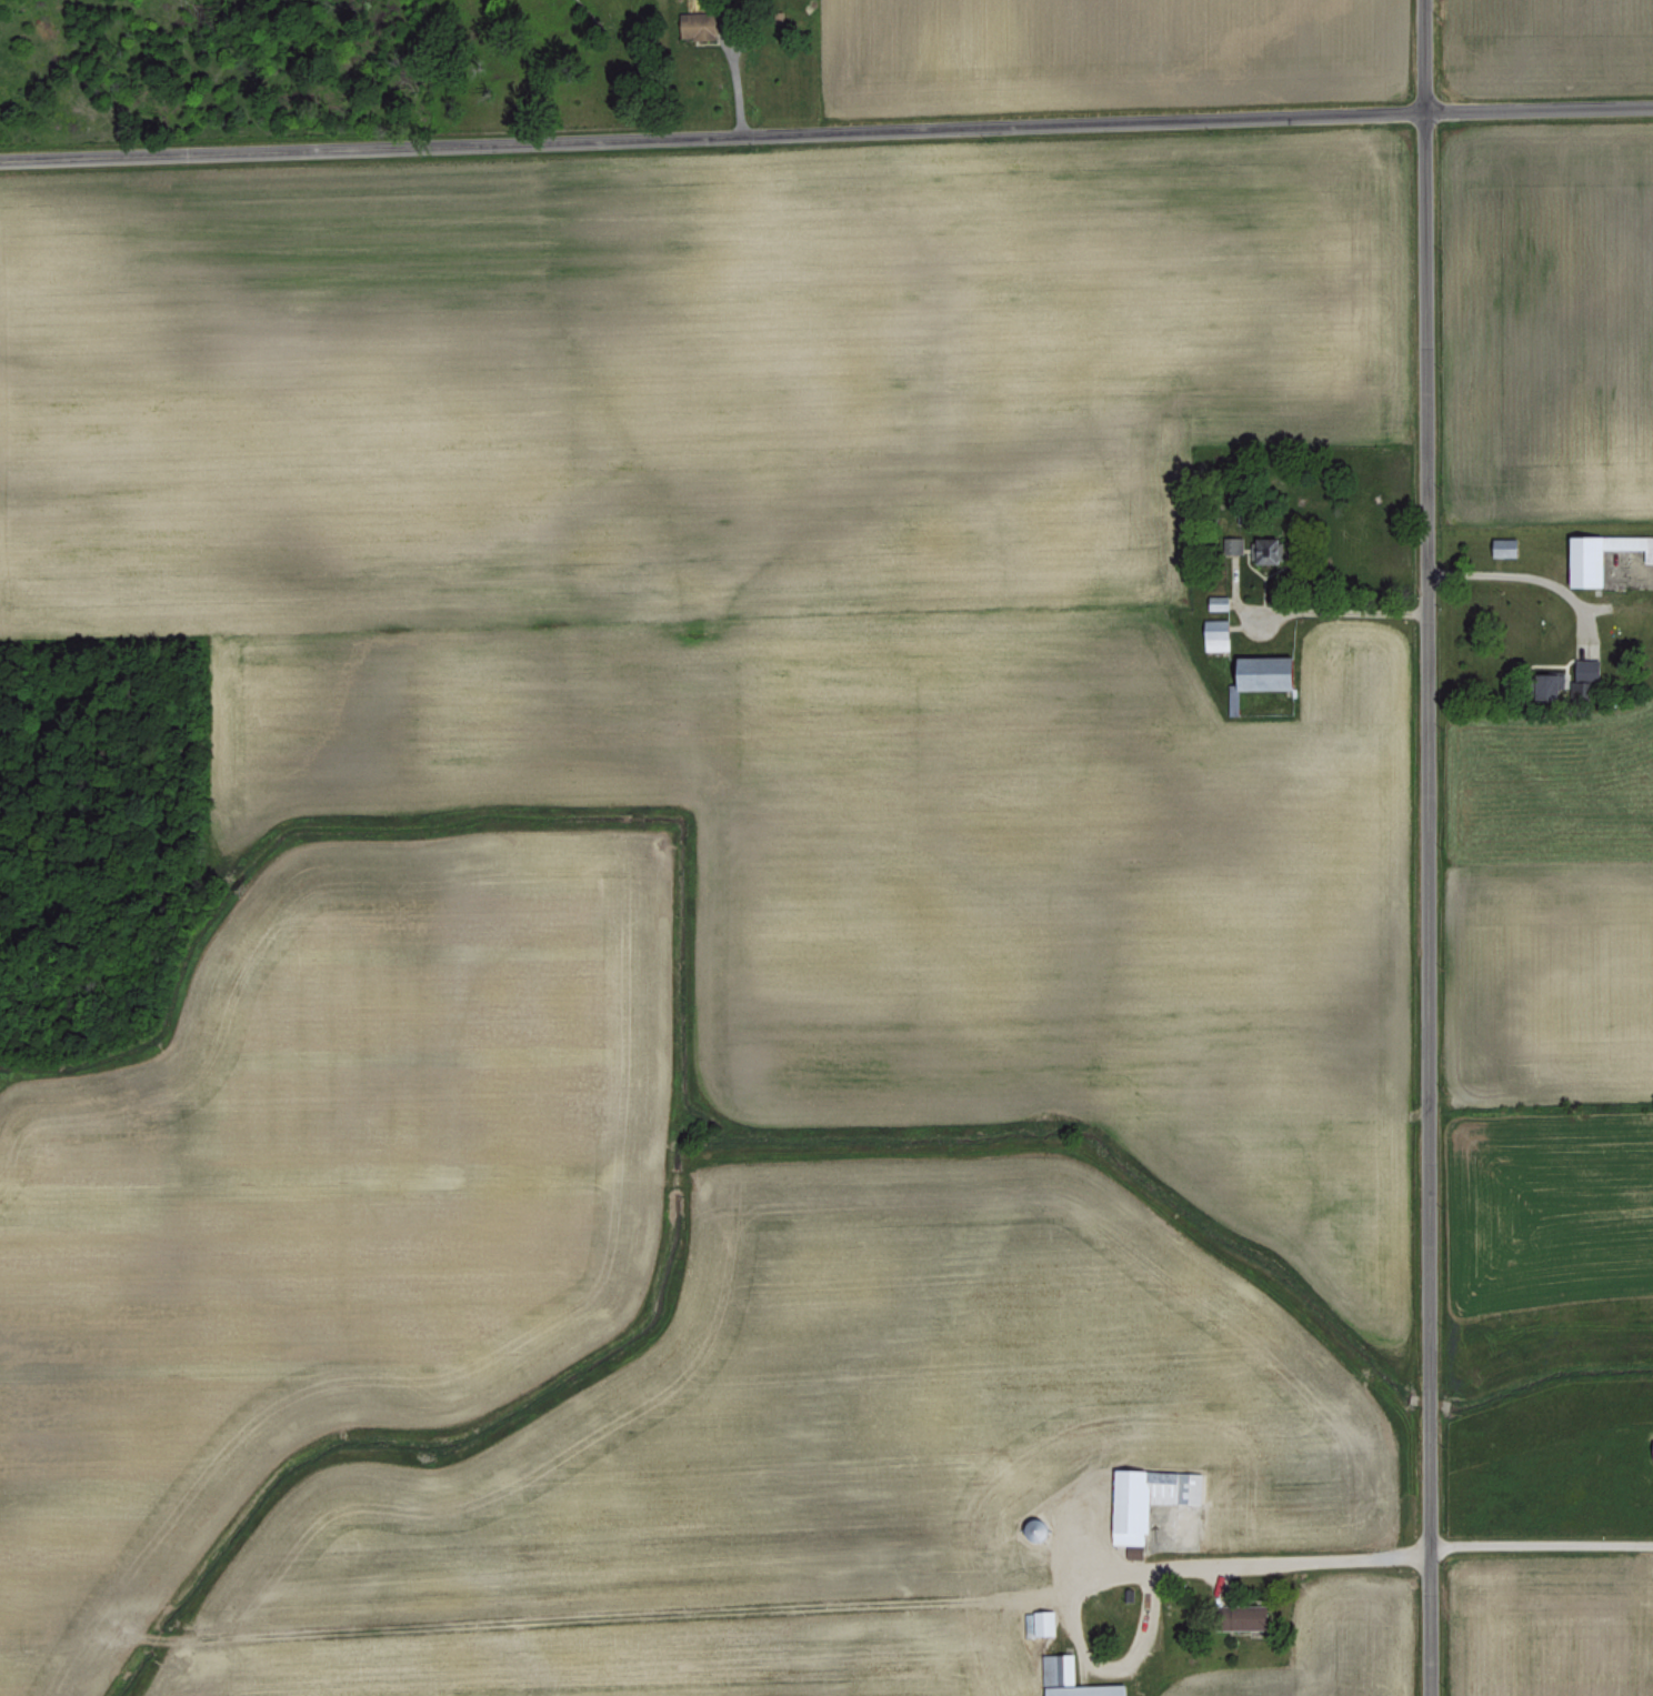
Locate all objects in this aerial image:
building: (701, 23)
road: (825, 130)
building: (1241, 543)
building: (1604, 555)
road: (1524, 572)
road: (1344, 610)
building: (1220, 632)
building: (1586, 668)
building: (1268, 675)
building: (1554, 683)
road: (1422, 847)
building: (1152, 1497)
road: (1540, 1542)
road: (1310, 1559)
building: (1253, 1616)
building: (1074, 1678)

